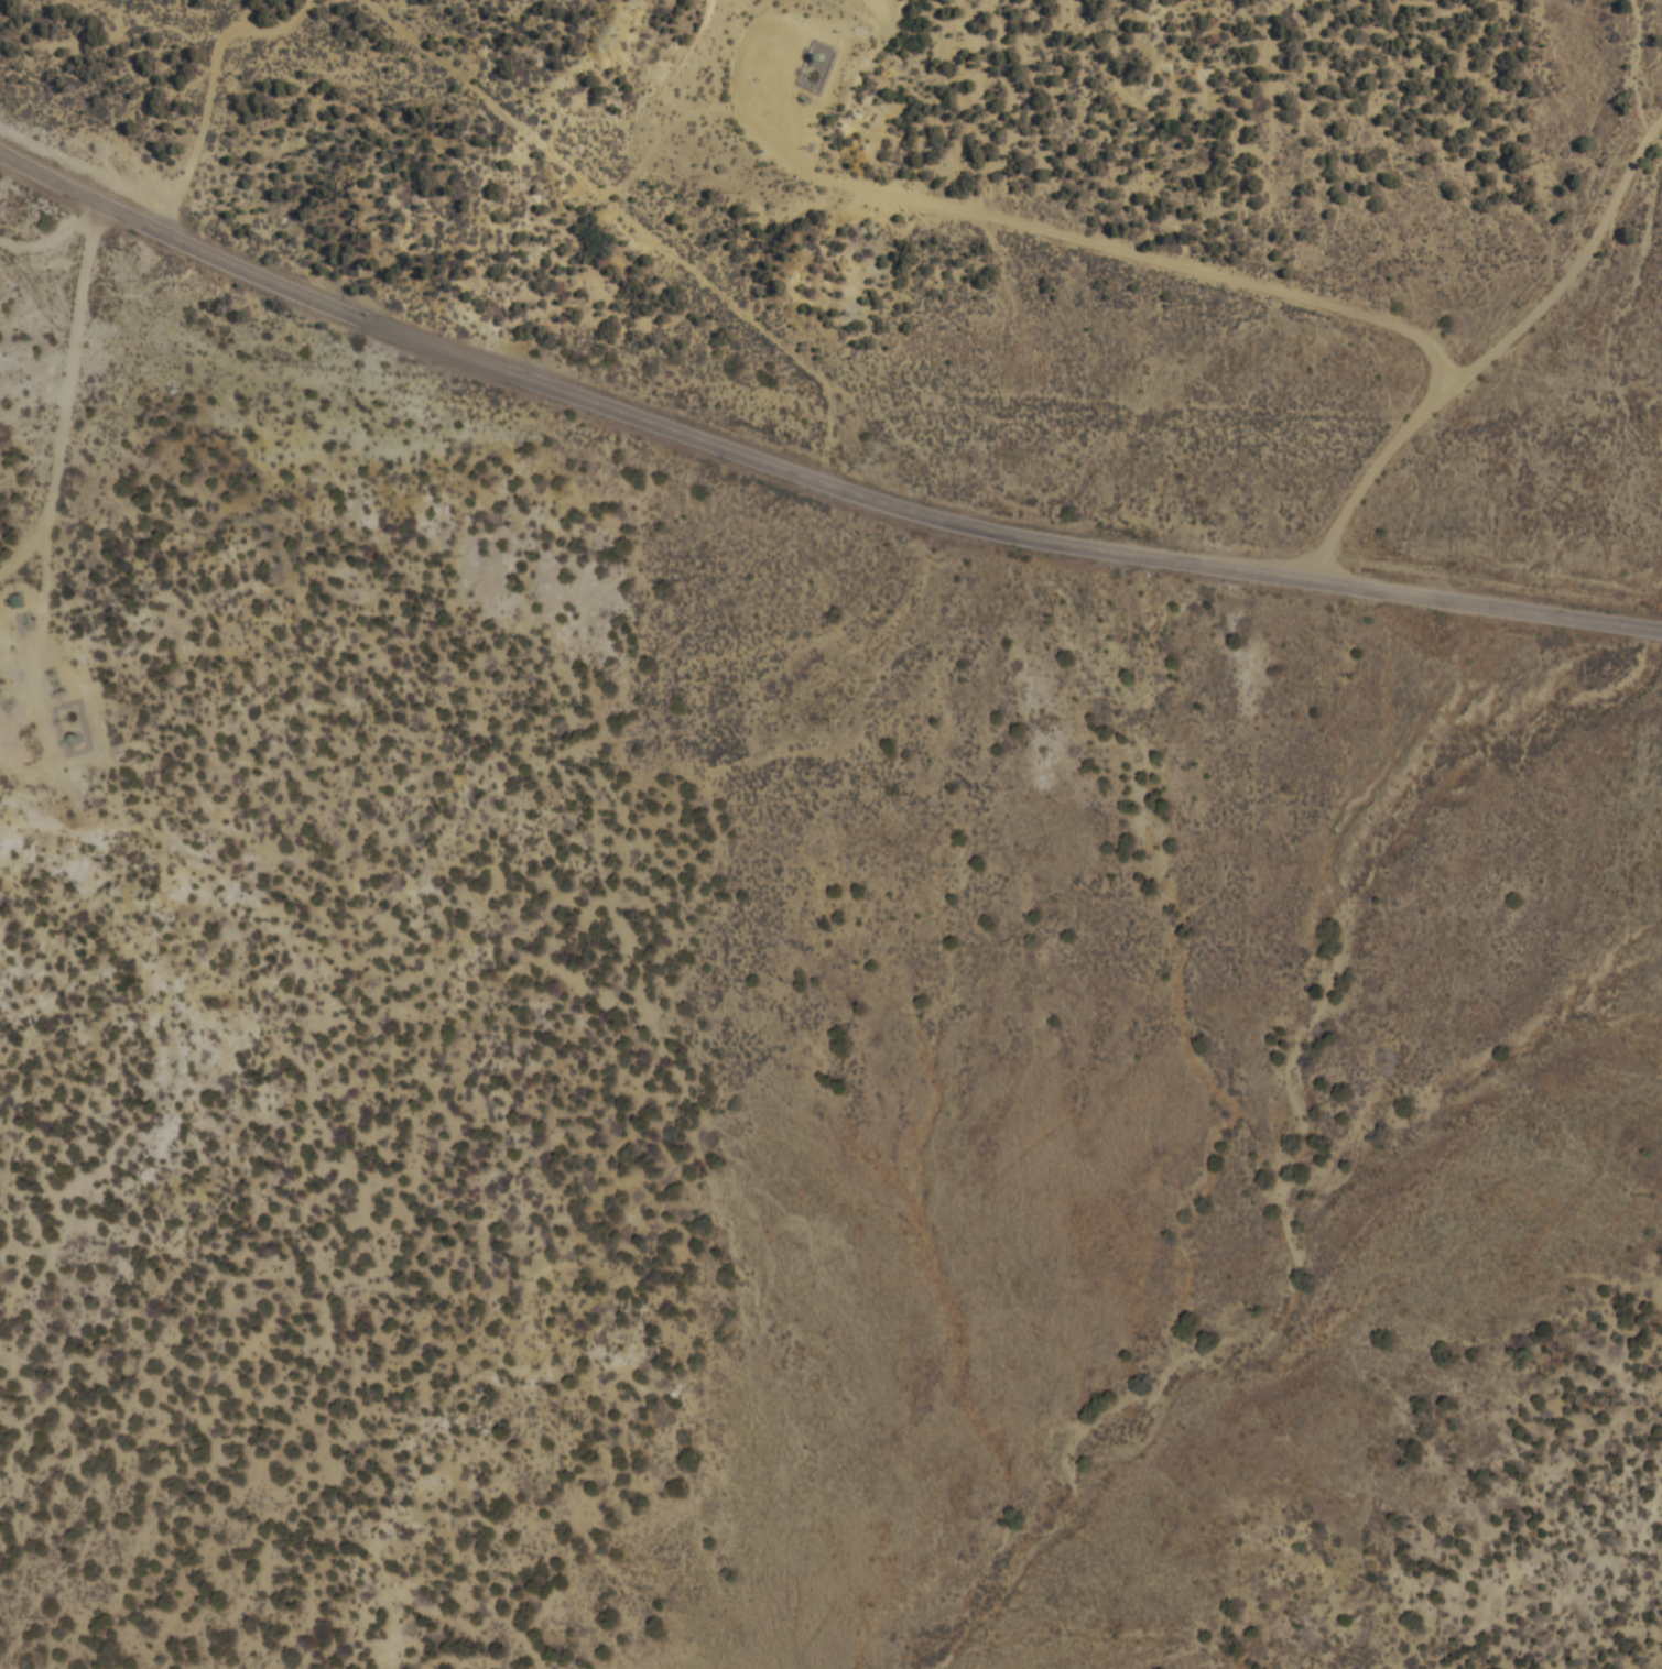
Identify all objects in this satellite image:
road: (216, 86)
road: (970, 207)
road: (641, 219)
road: (55, 239)
road: (1495, 350)
road: (77, 359)
road: (806, 470)
road: (29, 549)
road: (40, 669)
river: (1305, 1141)

